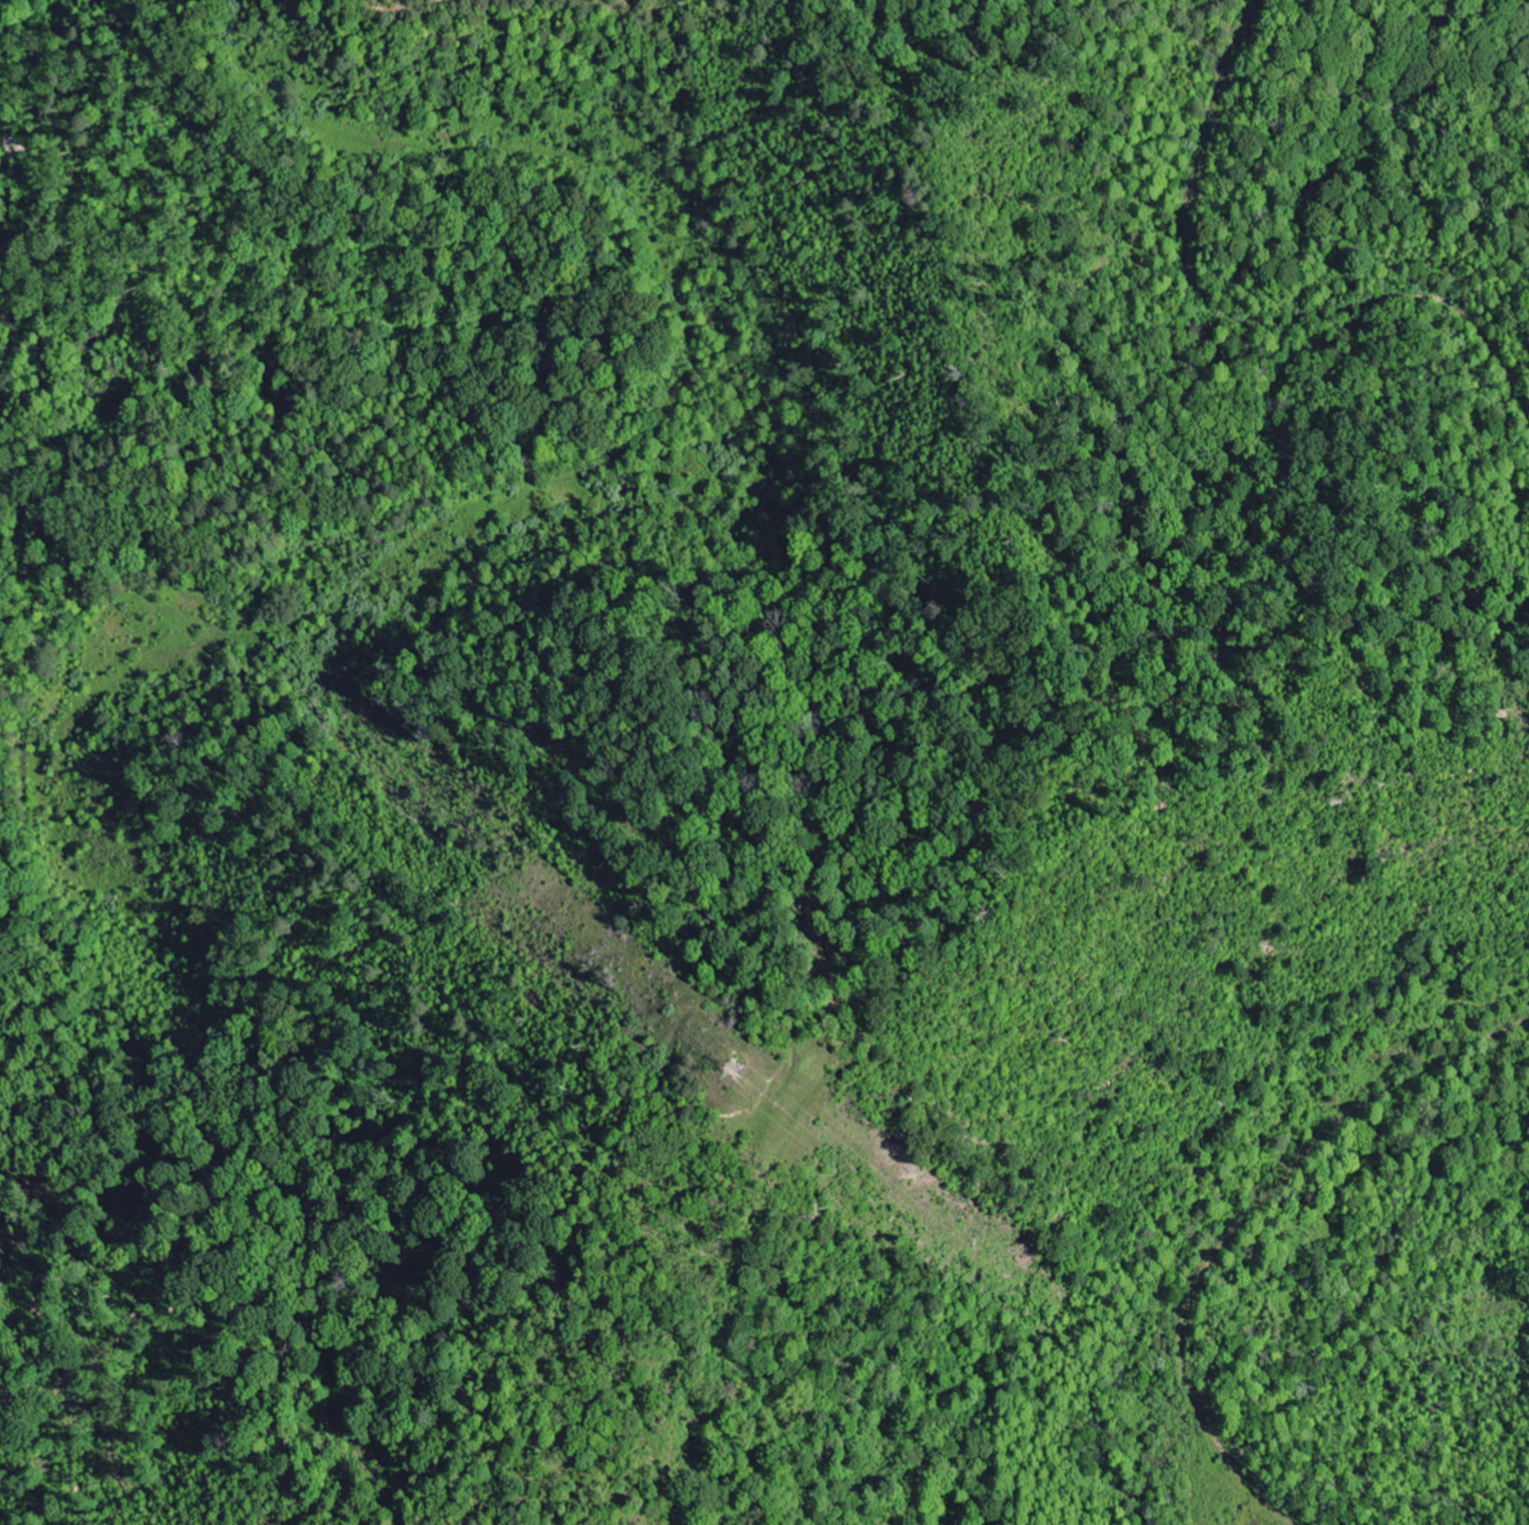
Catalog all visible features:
road: (9, 178)

